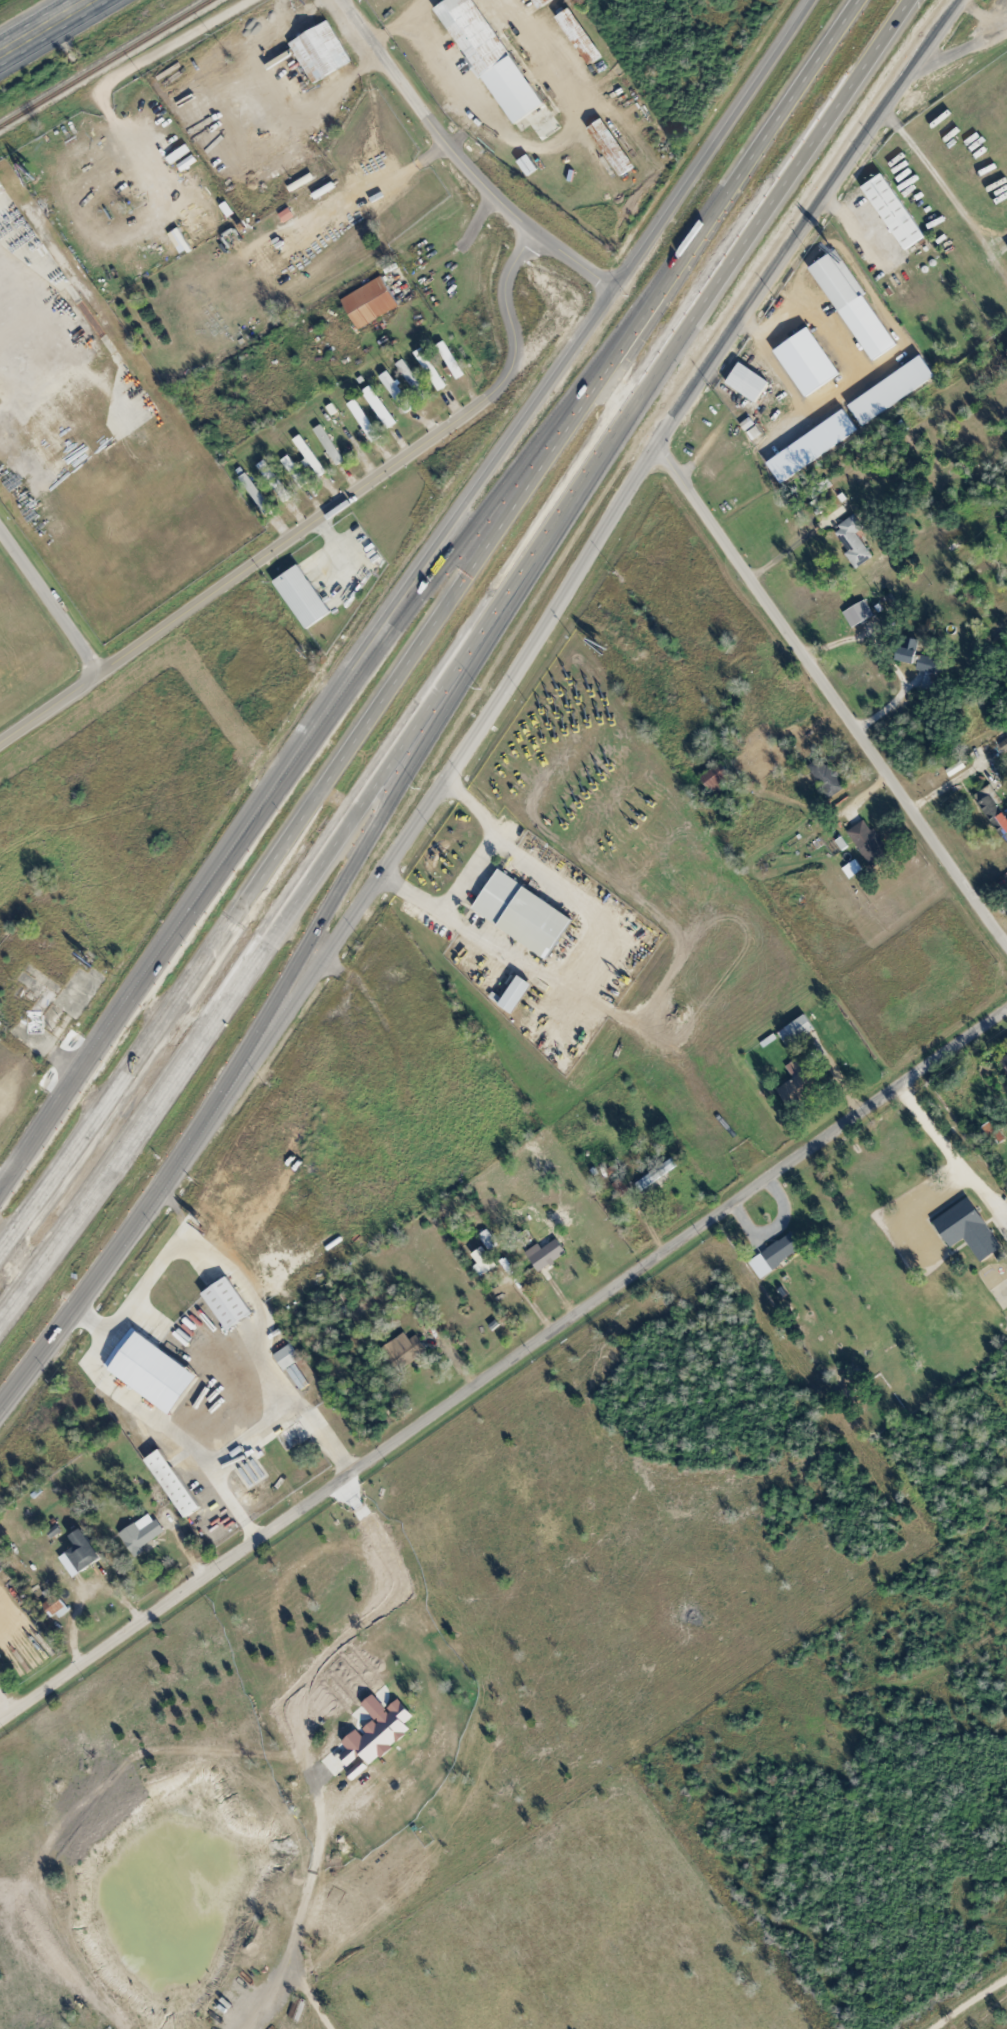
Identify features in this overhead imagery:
building: (541, 2)
road: (45, 27)
building: (580, 36)
road: (68, 49)
building: (321, 52)
building: (492, 58)
railway: (105, 62)
road: (97, 98)
building: (613, 147)
road: (460, 160)
building: (529, 164)
road: (737, 186)
road: (777, 203)
building: (895, 211)
road: (478, 220)
road: (802, 220)
building: (181, 241)
building: (371, 302)
building: (856, 305)
building: (452, 360)
building: (809, 362)
building: (431, 369)
building: (413, 382)
building: (750, 382)
building: (396, 391)
building: (894, 391)
building: (379, 406)
building: (366, 421)
building: (330, 446)
building: (814, 446)
building: (312, 458)
building: (294, 470)
building: (275, 481)
building: (256, 493)
road: (497, 501)
road: (318, 518)
building: (855, 542)
building: (304, 597)
road: (52, 599)
road: (402, 599)
building: (860, 614)
building: (919, 657)
building: (933, 681)
road: (834, 687)
building: (1004, 745)
building: (718, 777)
building: (829, 777)
road: (413, 780)
building: (996, 811)
road: (306, 818)
building: (871, 844)
road: (321, 867)
building: (526, 914)
road: (337, 931)
building: (518, 994)
building: (60, 1025)
building: (798, 1030)
building: (802, 1085)
building: (648, 1181)
building: (970, 1229)
building: (489, 1240)
building: (547, 1254)
building: (777, 1255)
building: (485, 1261)
building: (231, 1302)
building: (406, 1350)
building: (288, 1356)
road: (503, 1367)
building: (153, 1371)
building: (174, 1483)
building: (142, 1534)
building: (85, 1552)
building: (58, 1607)
building: (0, 1668)
building: (379, 1731)
road: (316, 1747)

